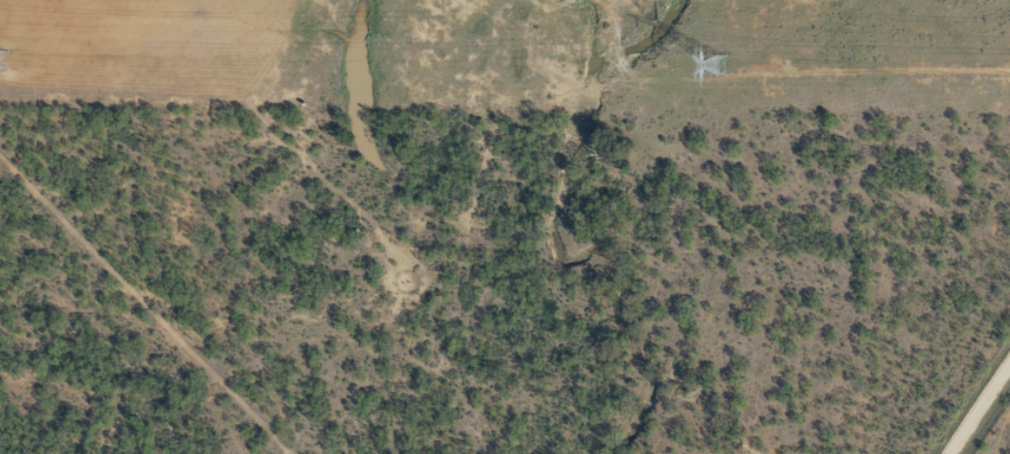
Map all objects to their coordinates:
power tower: (713, 63)
road: (990, 424)

